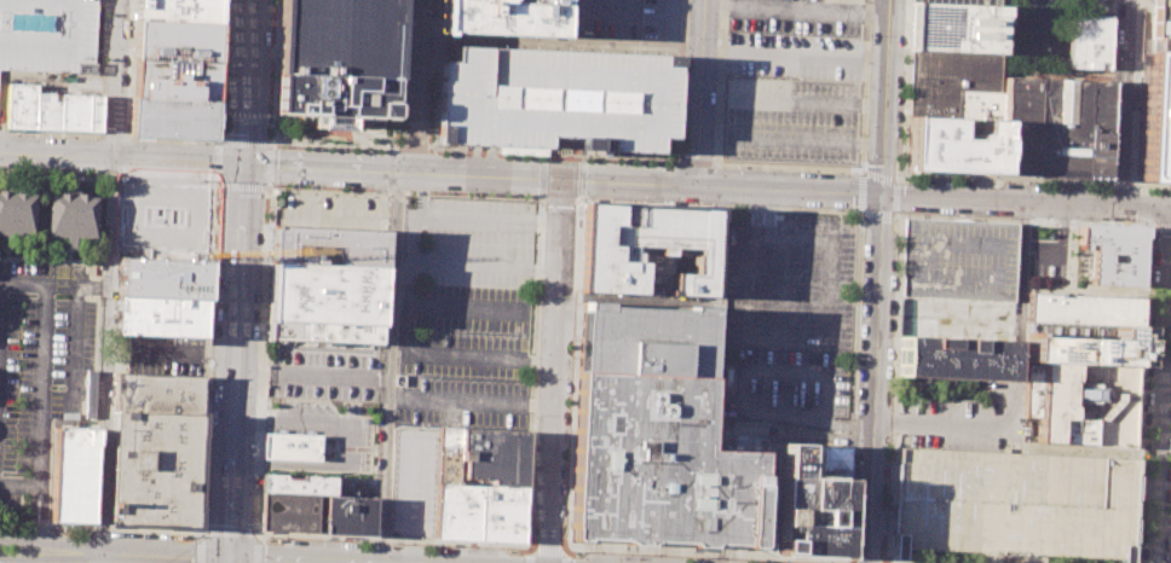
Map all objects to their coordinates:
building: (962, 1)
parking garage: (962, 1)
building: (177, 10)
building: (500, 17)
parking lot: (605, 17)
parking lot: (658, 19)
building: (1043, 19)
parking garage: (1043, 19)
building: (957, 25)
building: (1161, 27)
parking lot: (1161, 27)
building: (46, 34)
parking garage: (46, 34)
building: (338, 37)
building: (174, 40)
building: (1089, 41)
road: (559, 45)
road: (794, 53)
road: (415, 66)
road: (220, 70)
road: (273, 71)
road: (433, 74)
building: (172, 79)
road: (115, 80)
building: (956, 82)
parking lot: (792, 83)
road: (866, 85)
road: (904, 87)
road: (700, 92)
road: (1111, 92)
building: (331, 97)
road: (884, 97)
building: (556, 98)
parking lot: (556, 98)
road: (1124, 103)
building: (52, 110)
building: (171, 116)
building: (1154, 117)
building: (1050, 127)
road: (51, 133)
road: (114, 137)
road: (413, 137)
road: (172, 140)
road: (790, 140)
street lamp: (213, 141)
road: (264, 141)
street lamp: (428, 141)
road: (413, 144)
building: (953, 145)
street lamp: (294, 147)
street lamp: (317, 149)
street lamp: (341, 150)
street lamp: (365, 150)
street lamp: (367, 150)
street lamp: (450, 153)
road: (715, 153)
road: (552, 155)
street lamp: (514, 156)
street lamp: (546, 158)
road: (217, 159)
street lamp: (577, 159)
road: (696, 159)
road: (411, 161)
street lamp: (733, 167)
traffic signals: (242, 168)
road: (439, 173)
road: (106, 178)
road: (541, 178)
street lamp: (162, 179)
road: (1002, 179)
street lamp: (184, 180)
street lamp: (208, 181)
road: (214, 181)
road: (1119, 184)
road: (1149, 184)
road: (242, 187)
street lamp: (273, 187)
street lamp: (294, 187)
road: (269, 188)
street lamp: (331, 188)
street lamp: (370, 190)
street lamp: (438, 192)
street lamp: (439, 192)
street lamp: (478, 193)
street lamp: (515, 196)
road: (579, 199)
street lamp: (215, 202)
road: (1025, 202)
street lamp: (264, 207)
parking lot: (331, 211)
road: (756, 211)
road: (767, 211)
street lamp: (830, 211)
building: (17, 213)
building: (73, 215)
road: (890, 215)
street lamp: (543, 217)
road: (489, 219)
parking lot: (163, 221)
road: (269, 222)
road: (201, 225)
road: (1153, 226)
road: (1165, 227)
road: (1054, 245)
building: (328, 248)
building: (646, 249)
road: (859, 249)
street lamp: (1149, 249)
building: (1113, 254)
building: (959, 255)
parking lot: (959, 255)
road: (1071, 256)
parking lot: (1049, 257)
road: (60, 260)
street lamp: (215, 262)
road: (1147, 267)
road: (832, 268)
building: (161, 278)
road: (784, 280)
road: (237, 281)
road: (746, 286)
road: (1081, 291)
building: (325, 294)
road: (1169, 296)
road: (1017, 302)
building: (1083, 309)
road: (1167, 309)
road: (717, 312)
parking lot: (465, 313)
road: (804, 313)
building: (160, 315)
road: (404, 317)
parking lot: (790, 317)
street lamp: (1147, 321)
building: (324, 333)
street lamp: (258, 337)
building: (1080, 343)
parking lot: (166, 354)
road: (105, 355)
road: (206, 356)
building: (956, 358)
road: (42, 361)
parking lot: (44, 366)
road: (388, 367)
parking lot: (323, 371)
road: (554, 371)
road: (533, 373)
road: (301, 375)
road: (573, 375)
road: (1166, 377)
road: (379, 378)
road: (875, 378)
road: (1161, 385)
road: (894, 389)
street lamp: (209, 390)
building: (157, 394)
street lamp: (1144, 394)
building: (1079, 402)
road: (469, 404)
road: (948, 420)
parking lot: (956, 423)
building: (653, 434)
street lamp: (254, 443)
road: (335, 445)
building: (290, 446)
street lamp: (1142, 448)
building: (495, 454)
building: (824, 462)
building: (154, 470)
building: (74, 475)
parking lot: (414, 481)
building: (298, 483)
road: (18, 484)
street lamp: (1170, 488)
building: (473, 501)
building: (1013, 505)
parking lot: (1013, 505)
building: (808, 510)
building: (289, 511)
road: (31, 512)
road: (42, 512)
building: (767, 512)
building: (348, 515)
street lamp: (204, 518)
street lamp: (1140, 520)
street lamp: (252, 523)
road: (1170, 527)
road: (99, 528)
road: (253, 530)
road: (227, 532)
road: (202, 533)
road: (256, 535)
street lamp: (565, 538)
street lamp: (267, 539)
street lamp: (324, 539)
road: (397, 539)
road: (48, 542)
street lamp: (396, 542)
street lamp: (460, 546)
street lamp: (510, 549)
road: (533, 549)
road: (201, 550)
street lamp: (582, 550)
road: (255, 551)
road: (556, 551)
street lamp: (850, 552)
street lamp: (1169, 552)
street lamp: (639, 553)
road: (705, 553)
road: (162, 555)
road: (98, 557)
traffic signals: (227, 557)
street lamp: (705, 557)
road: (48, 558)
road: (304, 558)
road: (529, 559)
street lamp: (768, 559)

